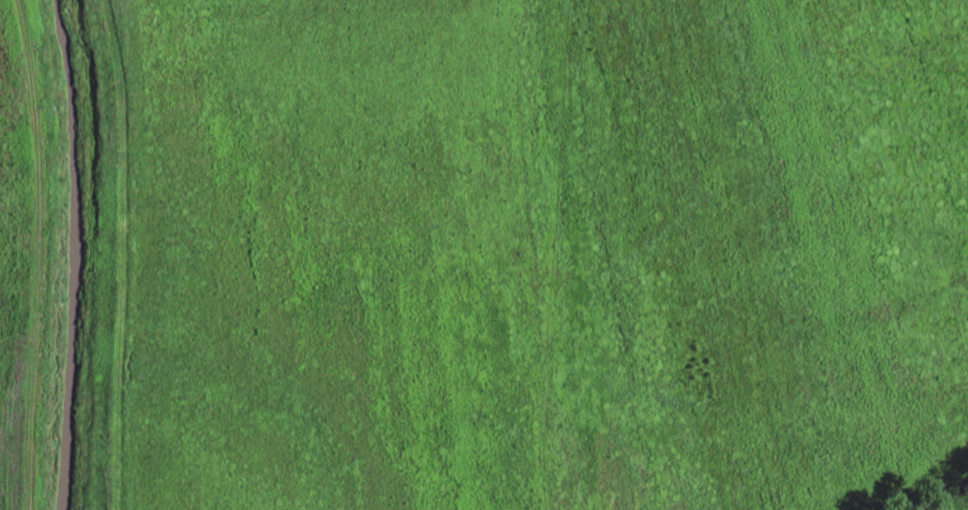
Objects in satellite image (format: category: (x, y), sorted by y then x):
road: (34, 254)

